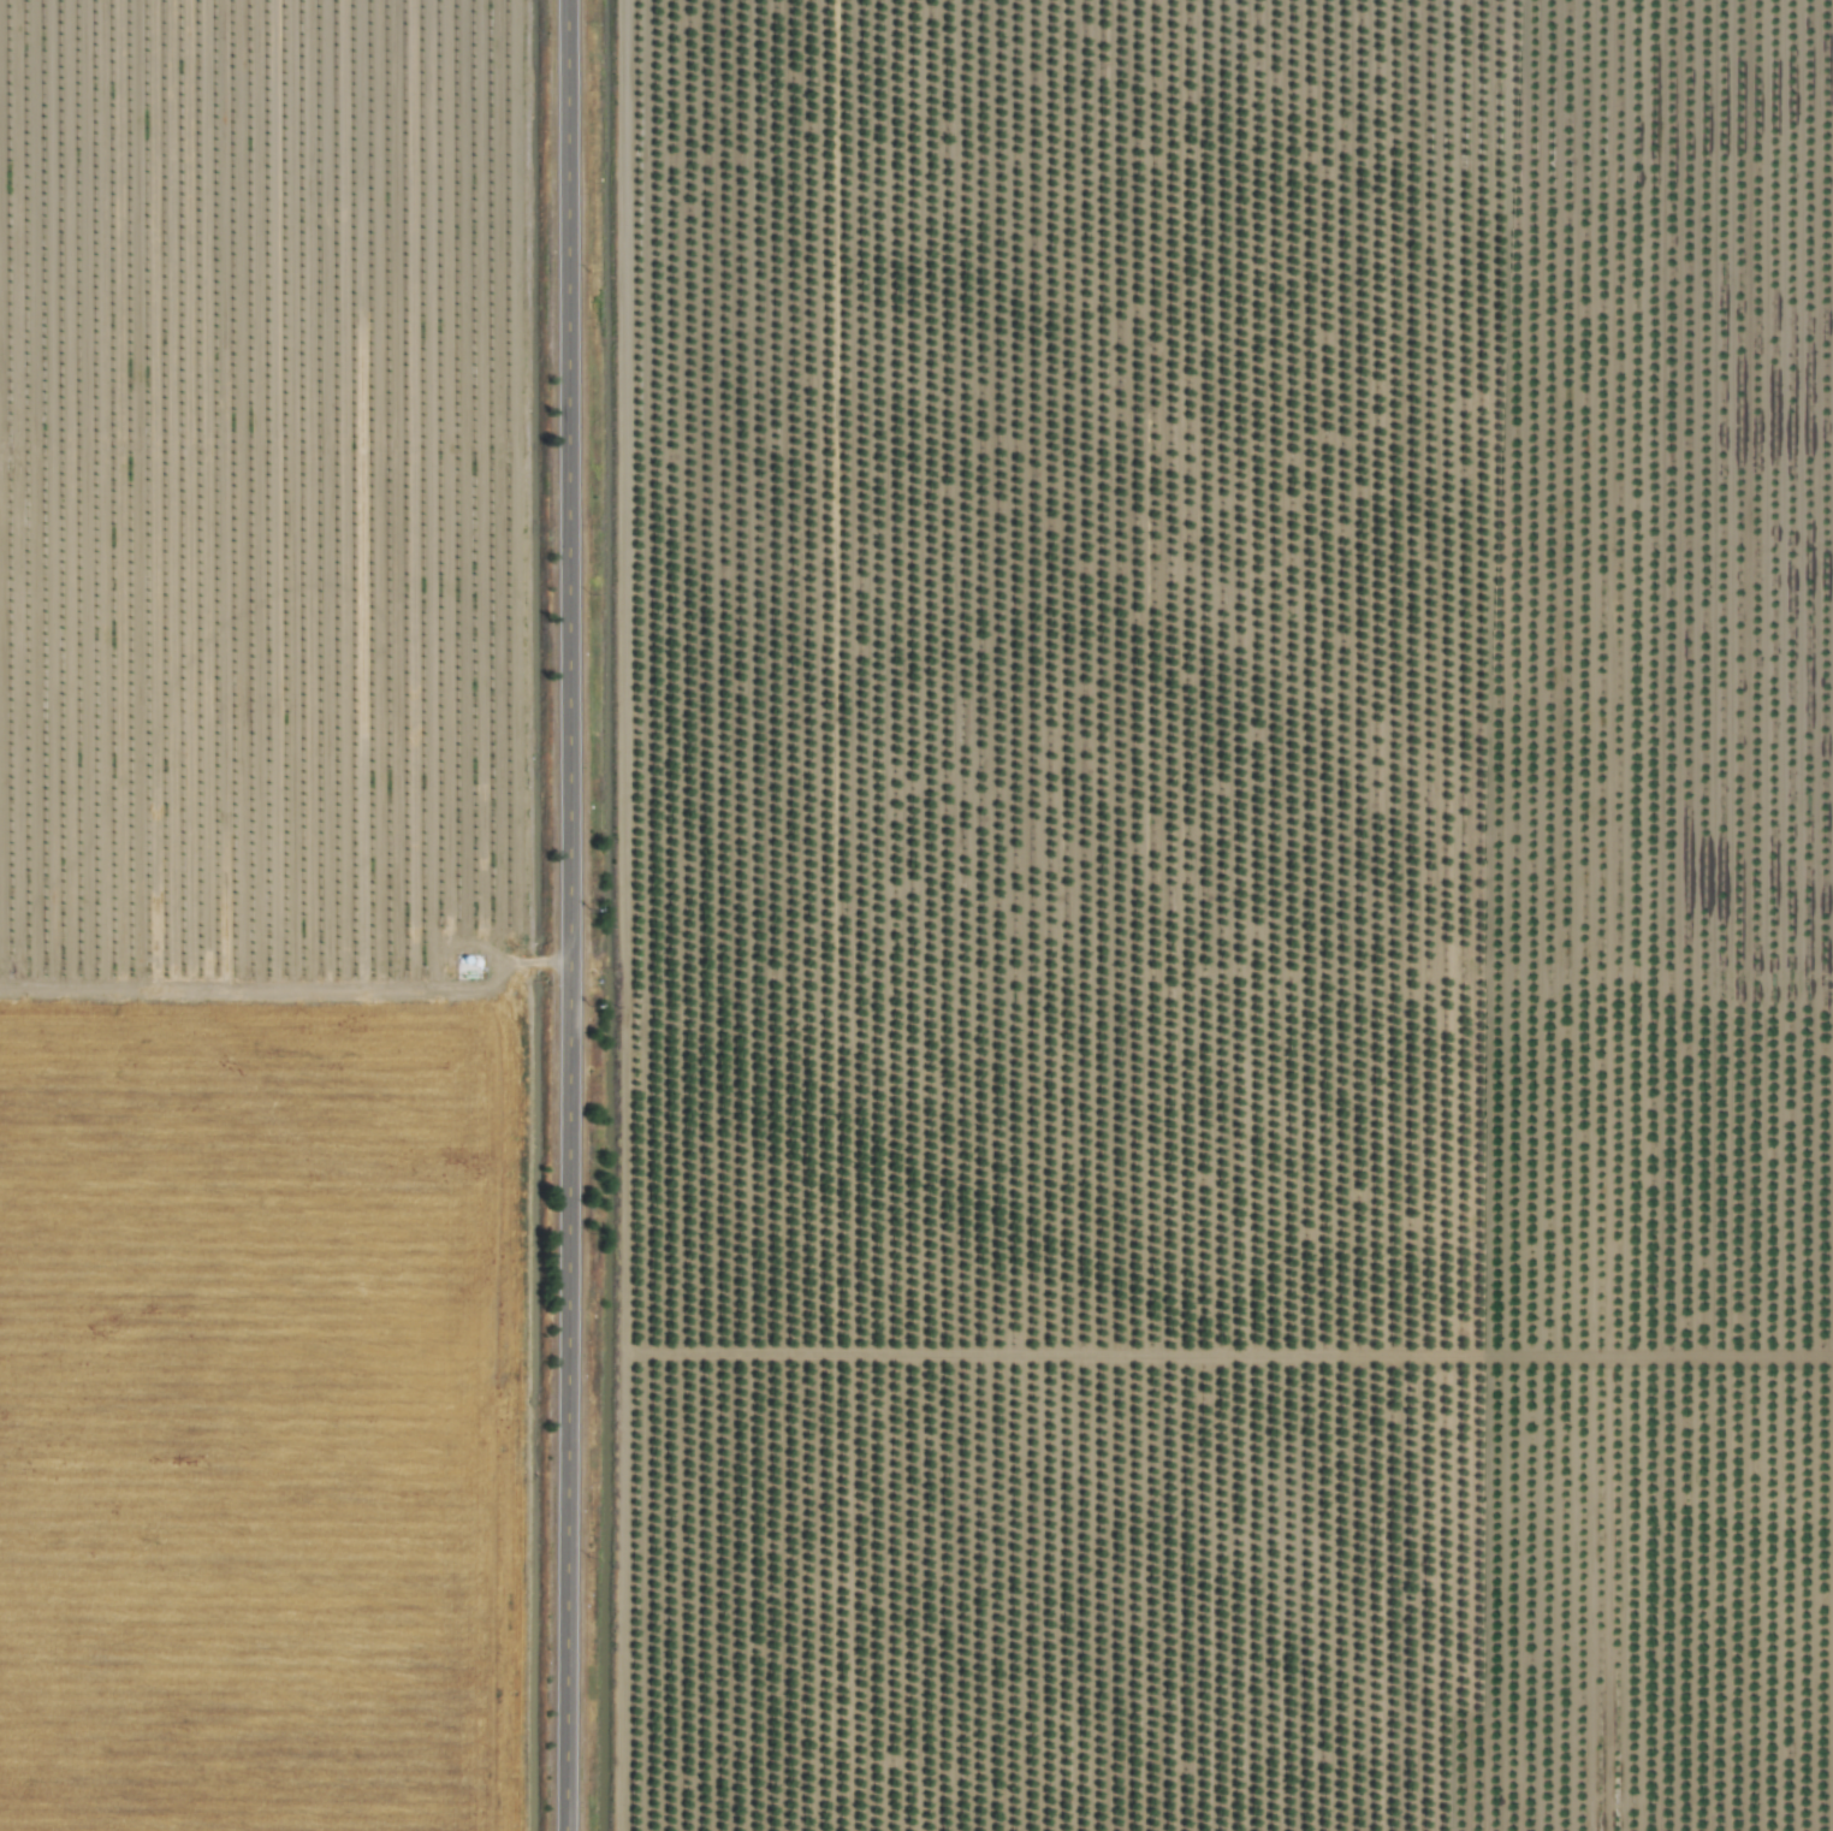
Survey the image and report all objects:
road: (568, 916)
road: (529, 962)

